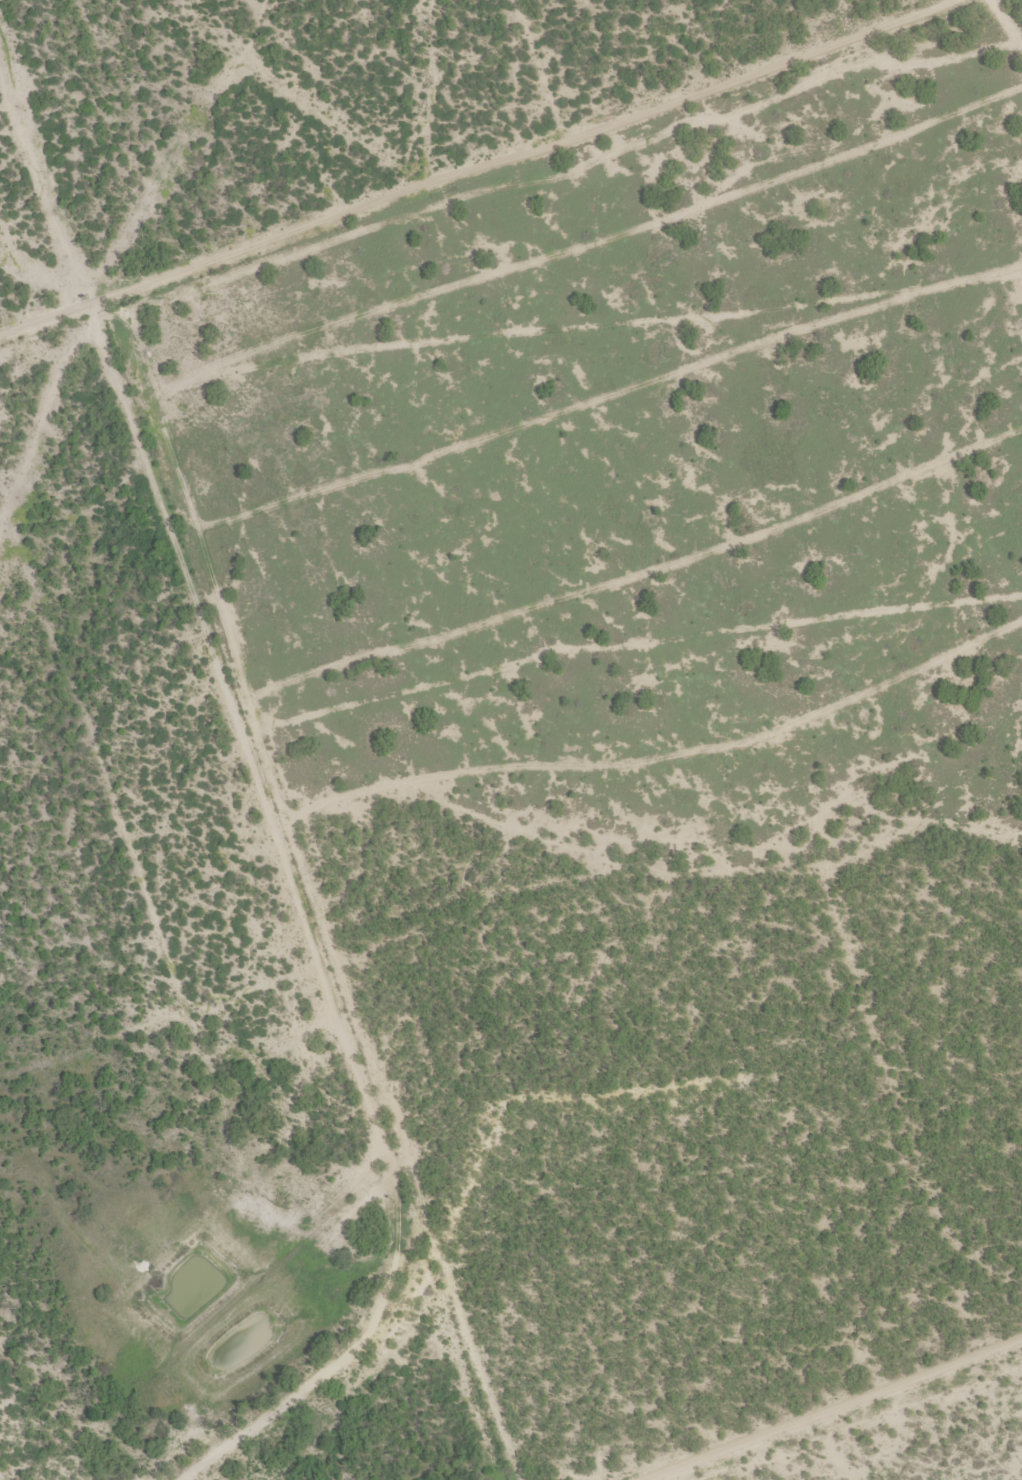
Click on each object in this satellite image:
road: (846, 45)
road: (432, 189)

